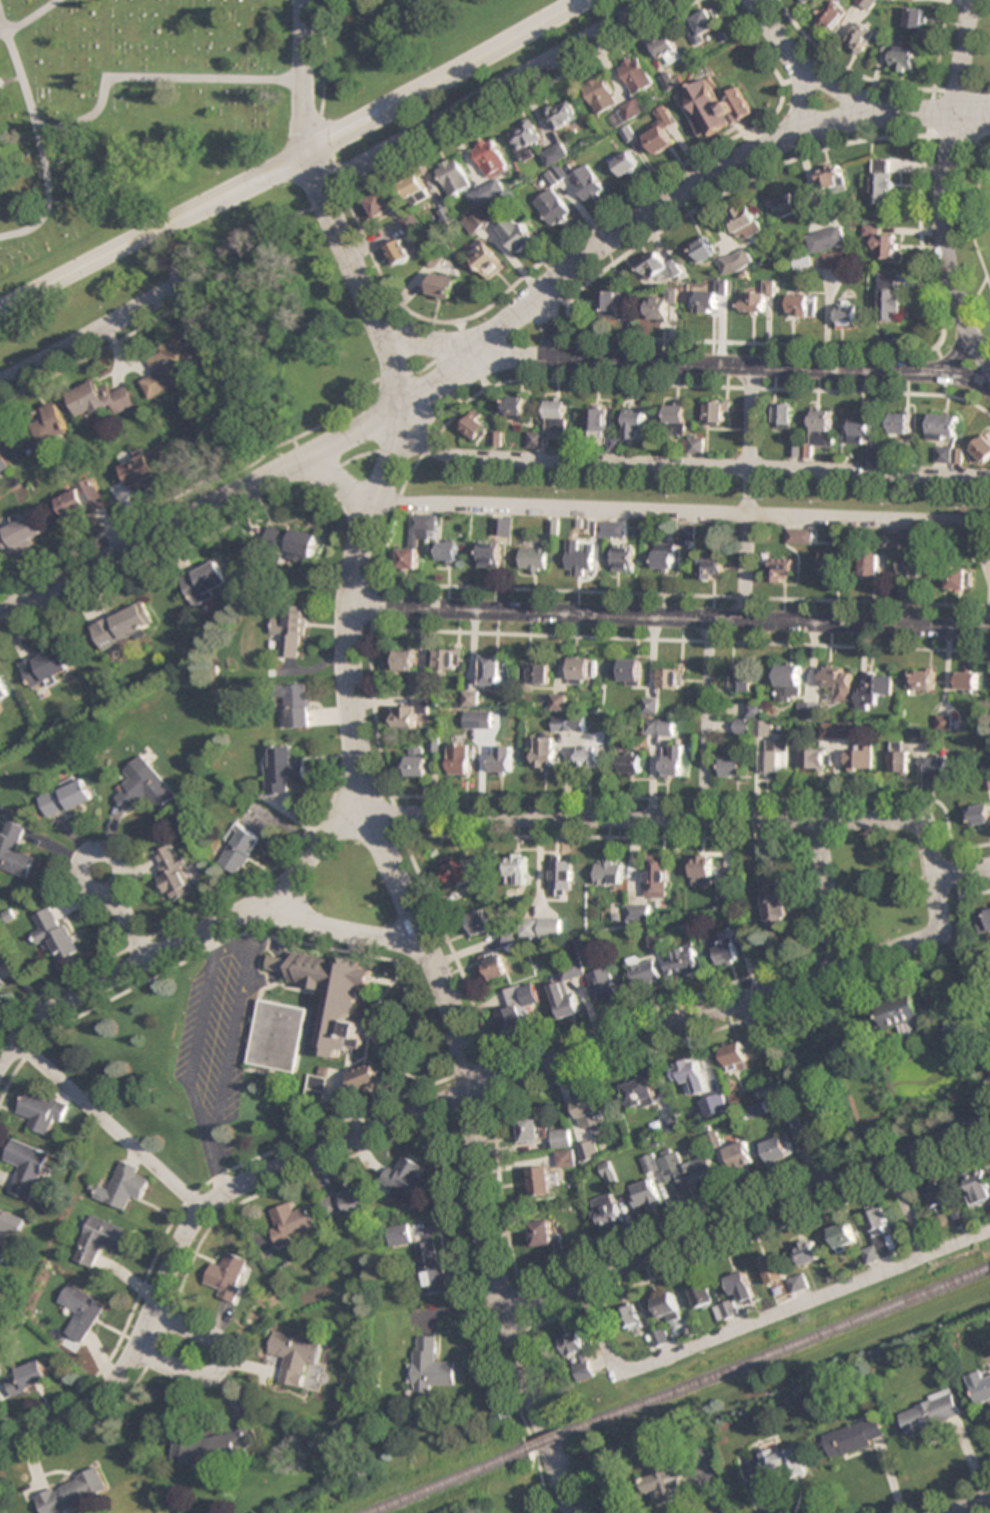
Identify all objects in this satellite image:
building: (802, 1)
building: (865, 3)
road: (629, 7)
building: (831, 15)
building: (915, 18)
building: (706, 21)
road: (776, 34)
building: (859, 38)
building: (903, 58)
building: (636, 75)
road: (303, 78)
road: (843, 90)
building: (600, 94)
road: (490, 95)
road: (799, 100)
building: (633, 108)
building: (713, 109)
building: (562, 113)
park: (129, 114)
building: (658, 132)
building: (524, 139)
road: (434, 145)
building: (554, 154)
building: (490, 157)
road: (294, 161)
building: (624, 163)
building: (453, 176)
building: (550, 178)
building: (831, 179)
building: (881, 181)
building: (585, 183)
building: (414, 186)
road: (689, 186)
road: (944, 186)
building: (487, 193)
building: (791, 204)
building: (378, 205)
building: (552, 207)
building: (480, 221)
building: (743, 223)
park: (973, 225)
building: (517, 235)
building: (826, 239)
building: (882, 241)
building: (703, 249)
building: (396, 253)
building: (434, 259)
building: (834, 260)
building: (736, 261)
building: (487, 262)
park: (170, 265)
building: (657, 266)
building: (443, 285)
road: (364, 293)
building: (889, 296)
building: (758, 297)
building: (705, 302)
building: (612, 304)
building: (661, 305)
building: (803, 305)
building: (847, 314)
road: (556, 326)
road: (94, 332)
road: (671, 364)
building: (169, 365)
road: (964, 378)
building: (101, 399)
building: (515, 407)
building: (717, 412)
building: (784, 415)
building: (556, 416)
building: (596, 422)
building: (900, 423)
building: (48, 425)
building: (635, 425)
building: (943, 426)
building: (474, 427)
building: (683, 428)
building: (822, 428)
building: (859, 428)
building: (535, 440)
building: (981, 449)
building: (943, 454)
building: (4, 466)
road: (696, 466)
building: (146, 467)
road: (339, 486)
road: (745, 492)
building: (81, 498)
road: (223, 501)
road: (697, 513)
building: (502, 526)
building: (611, 528)
building: (686, 532)
building: (22, 534)
building: (803, 536)
building: (418, 538)
building: (890, 539)
building: (292, 543)
building: (449, 551)
building: (490, 554)
building: (664, 556)
building: (579, 557)
building: (623, 558)
building: (535, 559)
building: (828, 563)
building: (868, 566)
building: (909, 566)
building: (710, 567)
building: (781, 569)
building: (952, 578)
building: (205, 582)
road: (671, 614)
building: (123, 626)
building: (292, 632)
building: (406, 659)
building: (448, 659)
building: (46, 667)
building: (583, 670)
building: (493, 671)
building: (626, 671)
building: (536, 673)
building: (671, 678)
building: (920, 679)
building: (966, 679)
building: (739, 681)
building: (788, 682)
building: (837, 682)
building: (872, 690)
building: (3, 692)
building: (559, 702)
building: (297, 705)
building: (651, 705)
building: (810, 711)
building: (410, 714)
road: (703, 717)
building: (478, 721)
building: (568, 723)
building: (659, 727)
building: (836, 730)
building: (544, 753)
building: (589, 753)
building: (775, 756)
building: (860, 757)
building: (898, 757)
building: (812, 759)
building: (461, 760)
building: (502, 760)
building: (674, 762)
building: (416, 763)
building: (631, 763)
building: (733, 766)
building: (937, 767)
building: (284, 770)
building: (147, 789)
road: (349, 791)
building: (69, 798)
building: (978, 815)
road: (445, 818)
building: (14, 849)
building: (240, 851)
road: (89, 857)
building: (518, 869)
building: (702, 870)
building: (610, 872)
road: (961, 872)
building: (174, 873)
building: (460, 874)
building: (563, 876)
building: (657, 876)
building: (726, 892)
road: (828, 893)
building: (776, 901)
building: (639, 912)
building: (984, 919)
building: (480, 921)
road: (131, 927)
building: (541, 927)
road: (338, 928)
building: (55, 933)
building: (505, 937)
road: (423, 942)
building: (657, 942)
building: (727, 951)
building: (685, 962)
building: (494, 964)
building: (644, 971)
building: (2, 984)
building: (603, 984)
building: (566, 988)
building: (518, 1006)
building: (902, 1013)
building: (282, 1014)
building: (950, 1022)
building: (735, 1056)
building: (692, 1075)
building: (364, 1077)
building: (640, 1092)
building: (744, 1098)
road: (439, 1105)
building: (42, 1111)
building: (590, 1113)
building: (671, 1122)
road: (109, 1126)
building: (531, 1129)
building: (564, 1148)
building: (778, 1149)
building: (588, 1151)
building: (739, 1156)
building: (651, 1164)
building: (27, 1167)
building: (687, 1169)
building: (610, 1173)
building: (543, 1180)
building: (406, 1181)
building: (122, 1186)
building: (978, 1187)
building: (646, 1195)
building: (937, 1198)
building: (346, 1204)
road: (907, 1208)
building: (607, 1211)
road: (747, 1218)
building: (959, 1219)
building: (10, 1223)
building: (292, 1224)
building: (545, 1232)
building: (398, 1234)
building: (842, 1235)
building: (879, 1237)
building: (99, 1239)
building: (807, 1252)
building: (1, 1256)
building: (432, 1267)
building: (228, 1276)
building: (751, 1280)
building: (798, 1283)
building: (704, 1294)
building: (668, 1307)
building: (727, 1310)
building: (80, 1311)
building: (632, 1318)
road: (759, 1318)
building: (662, 1337)
building: (579, 1354)
building: (294, 1355)
road: (219, 1365)
building: (430, 1366)
building: (27, 1377)
building: (981, 1387)
building: (929, 1413)
building: (854, 1437)
building: (212, 1447)
building: (779, 1461)
building: (666, 1483)
building: (73, 1492)
park: (511, 1497)
road: (974, 1506)
road: (966, 1511)

